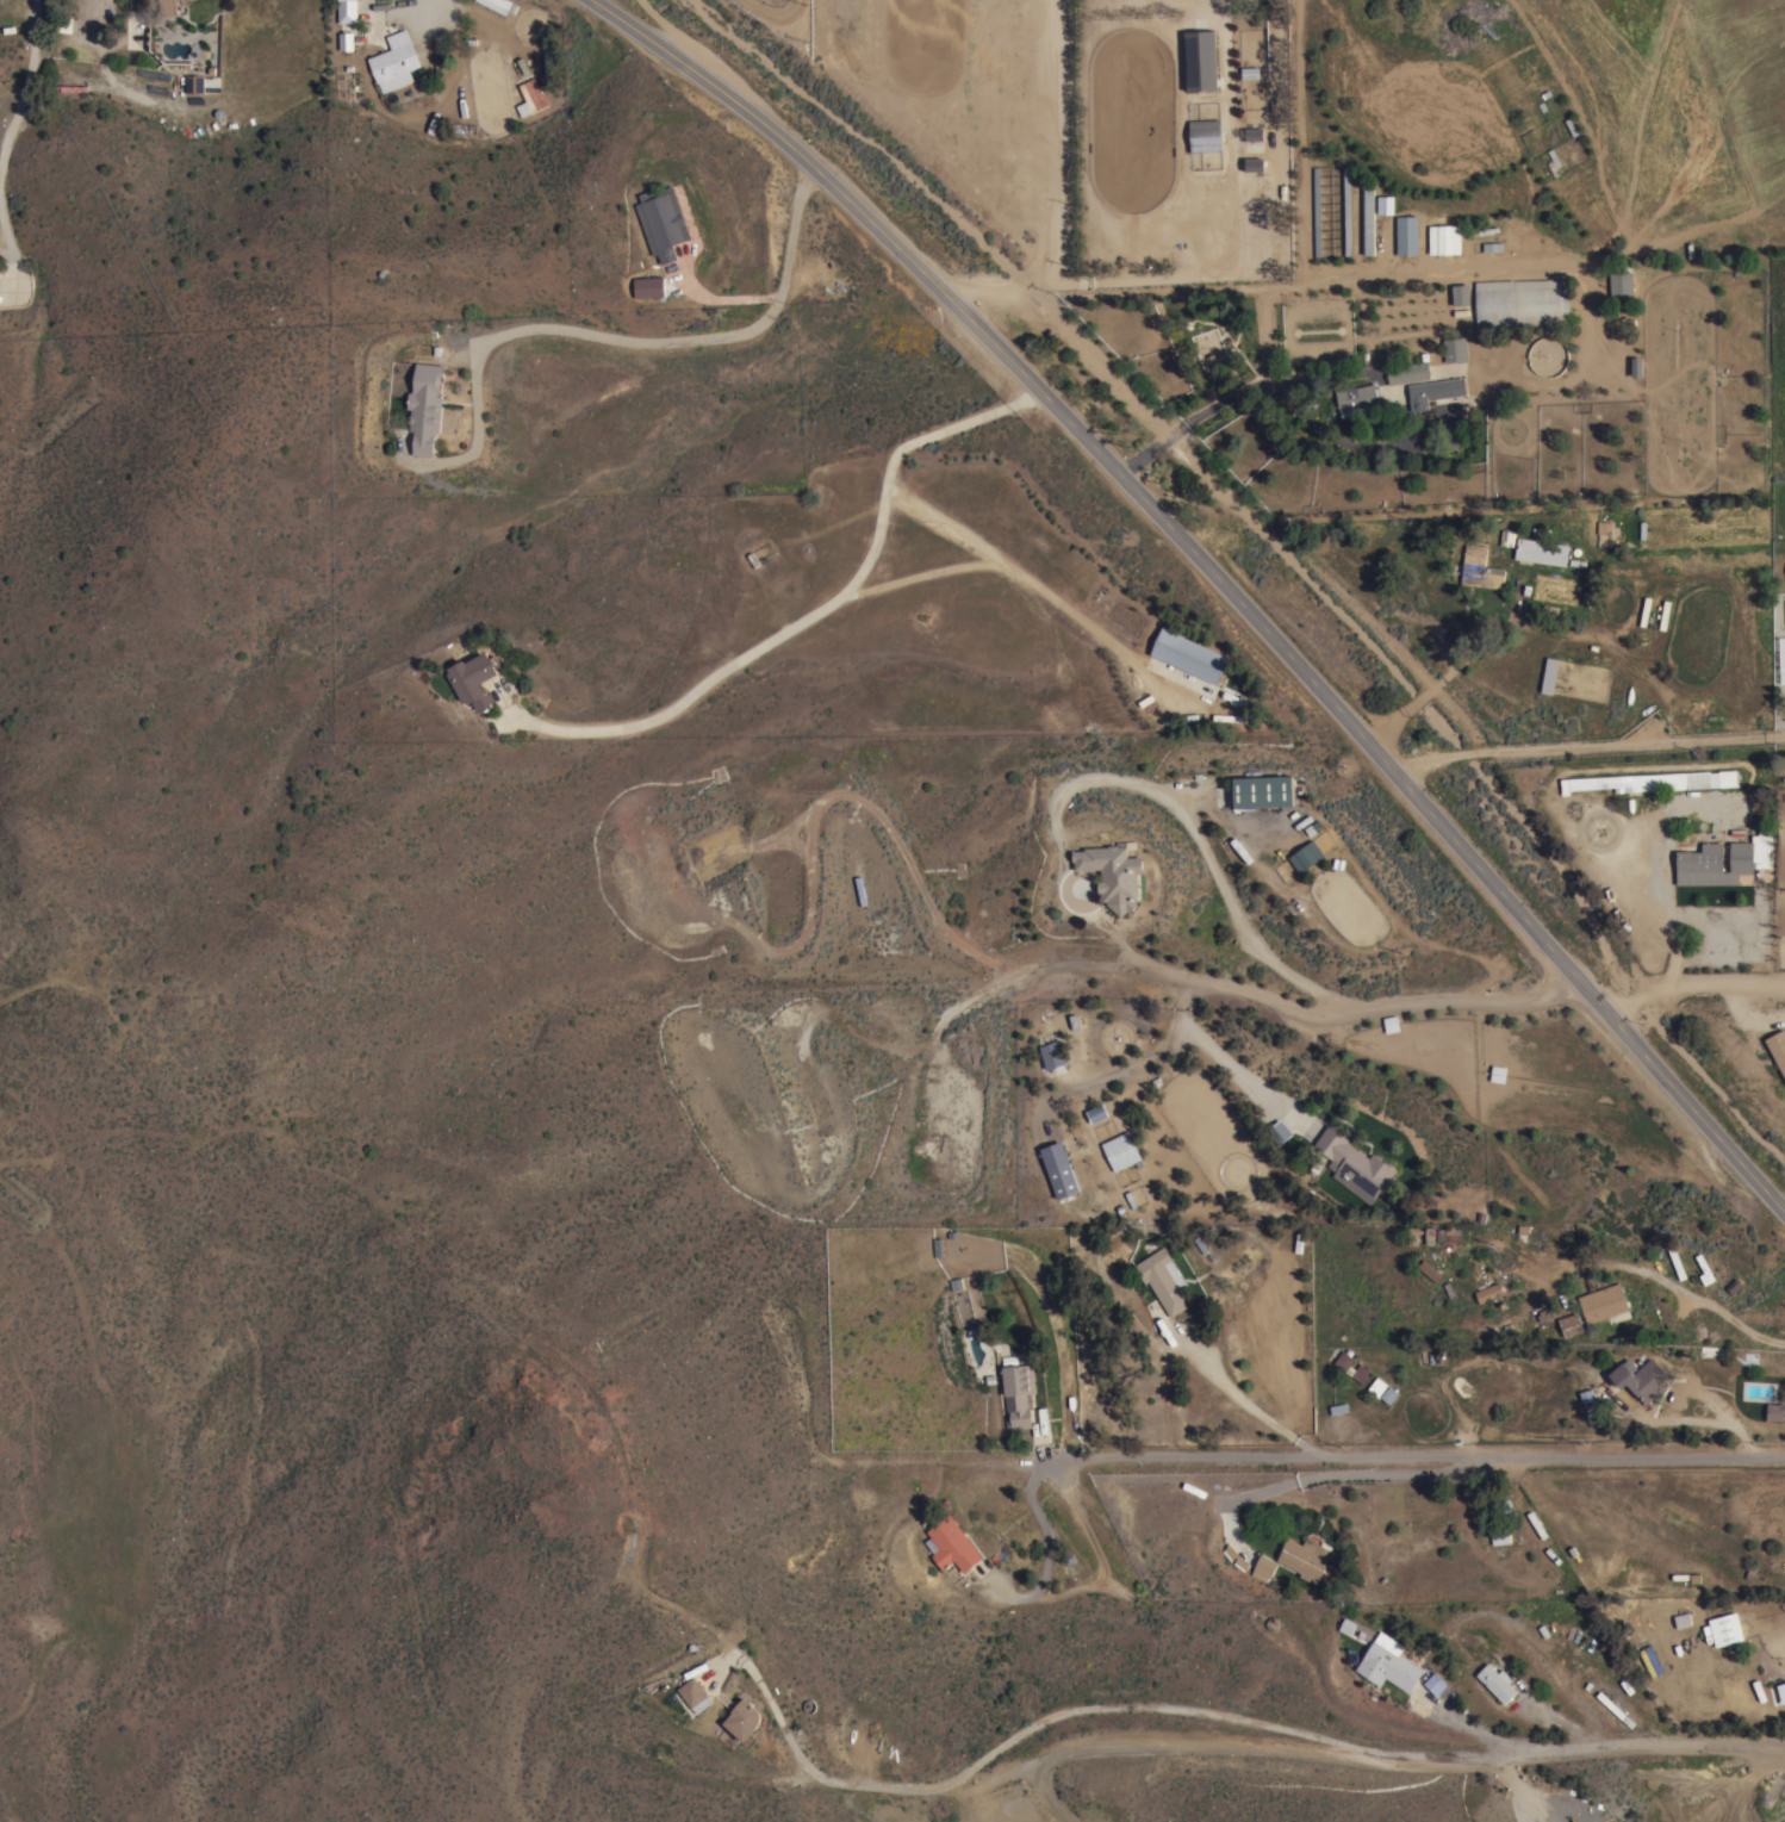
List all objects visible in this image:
building: (495, 4)
building: (167, 7)
building: (347, 11)
building: (64, 23)
road: (668, 27)
building: (346, 39)
building: (394, 60)
building: (1201, 60)
building: (1250, 71)
building: (153, 74)
building: (194, 81)
building: (530, 95)
building: (1254, 132)
road: (13, 135)
building: (1205, 135)
building: (1553, 162)
building: (1254, 164)
road: (1053, 195)
building: (1382, 205)
building: (1346, 210)
building: (1316, 211)
building: (1368, 218)
building: (661, 220)
building: (1406, 234)
building: (1444, 238)
building: (1492, 245)
road: (1308, 270)
road: (691, 280)
building: (1621, 282)
building: (649, 287)
building: (1461, 293)
road: (741, 298)
building: (1523, 301)
road: (703, 340)
building: (1455, 349)
building: (1636, 366)
building: (1407, 372)
road: (475, 377)
building: (1435, 391)
building: (1357, 398)
road: (1226, 400)
building: (424, 406)
building: (1601, 531)
building: (1541, 551)
building: (1480, 567)
road: (1215, 573)
road: (927, 577)
road: (1035, 589)
building: (1644, 610)
road: (825, 611)
building: (1663, 614)
building: (1189, 654)
building: (1547, 674)
road: (1439, 676)
building: (474, 679)
building: (1234, 697)
building: (1231, 716)
road: (1590, 736)
building: (1728, 778)
building: (1784, 779)
building: (1640, 782)
building: (1263, 790)
road: (1204, 845)
building: (1306, 856)
building: (1741, 857)
building: (1702, 859)
building: (1112, 873)
road: (1022, 976)
road: (1402, 1007)
building: (1391, 1022)
building: (1777, 1050)
building: (1049, 1055)
building: (1498, 1072)
building: (1096, 1113)
building: (1279, 1131)
building: (1121, 1150)
building: (1354, 1164)
building: (1063, 1180)
building: (1429, 1269)
building: (1163, 1279)
building: (1488, 1292)
building: (1603, 1301)
road: (1705, 1305)
building: (1571, 1324)
building: (1351, 1366)
building: (1640, 1378)
building: (1381, 1389)
building: (1018, 1392)
road: (1237, 1397)
building: (1590, 1397)
building: (1774, 1411)
road: (1691, 1418)
road: (1041, 1441)
road: (1414, 1459)
road: (1341, 1475)
building: (1536, 1524)
building: (1495, 1537)
road: (1046, 1540)
building: (951, 1544)
building: (1305, 1557)
road: (1103, 1562)
building: (1264, 1565)
building: (1680, 1619)
building: (1348, 1627)
building: (1725, 1629)
building: (1388, 1662)
building: (1725, 1665)
road: (752, 1673)
building: (1495, 1681)
building: (1435, 1683)
building: (1781, 1692)
building: (695, 1693)
building: (1610, 1705)
road: (1114, 1710)
building: (744, 1718)
road: (1482, 1731)
road: (1635, 1745)

